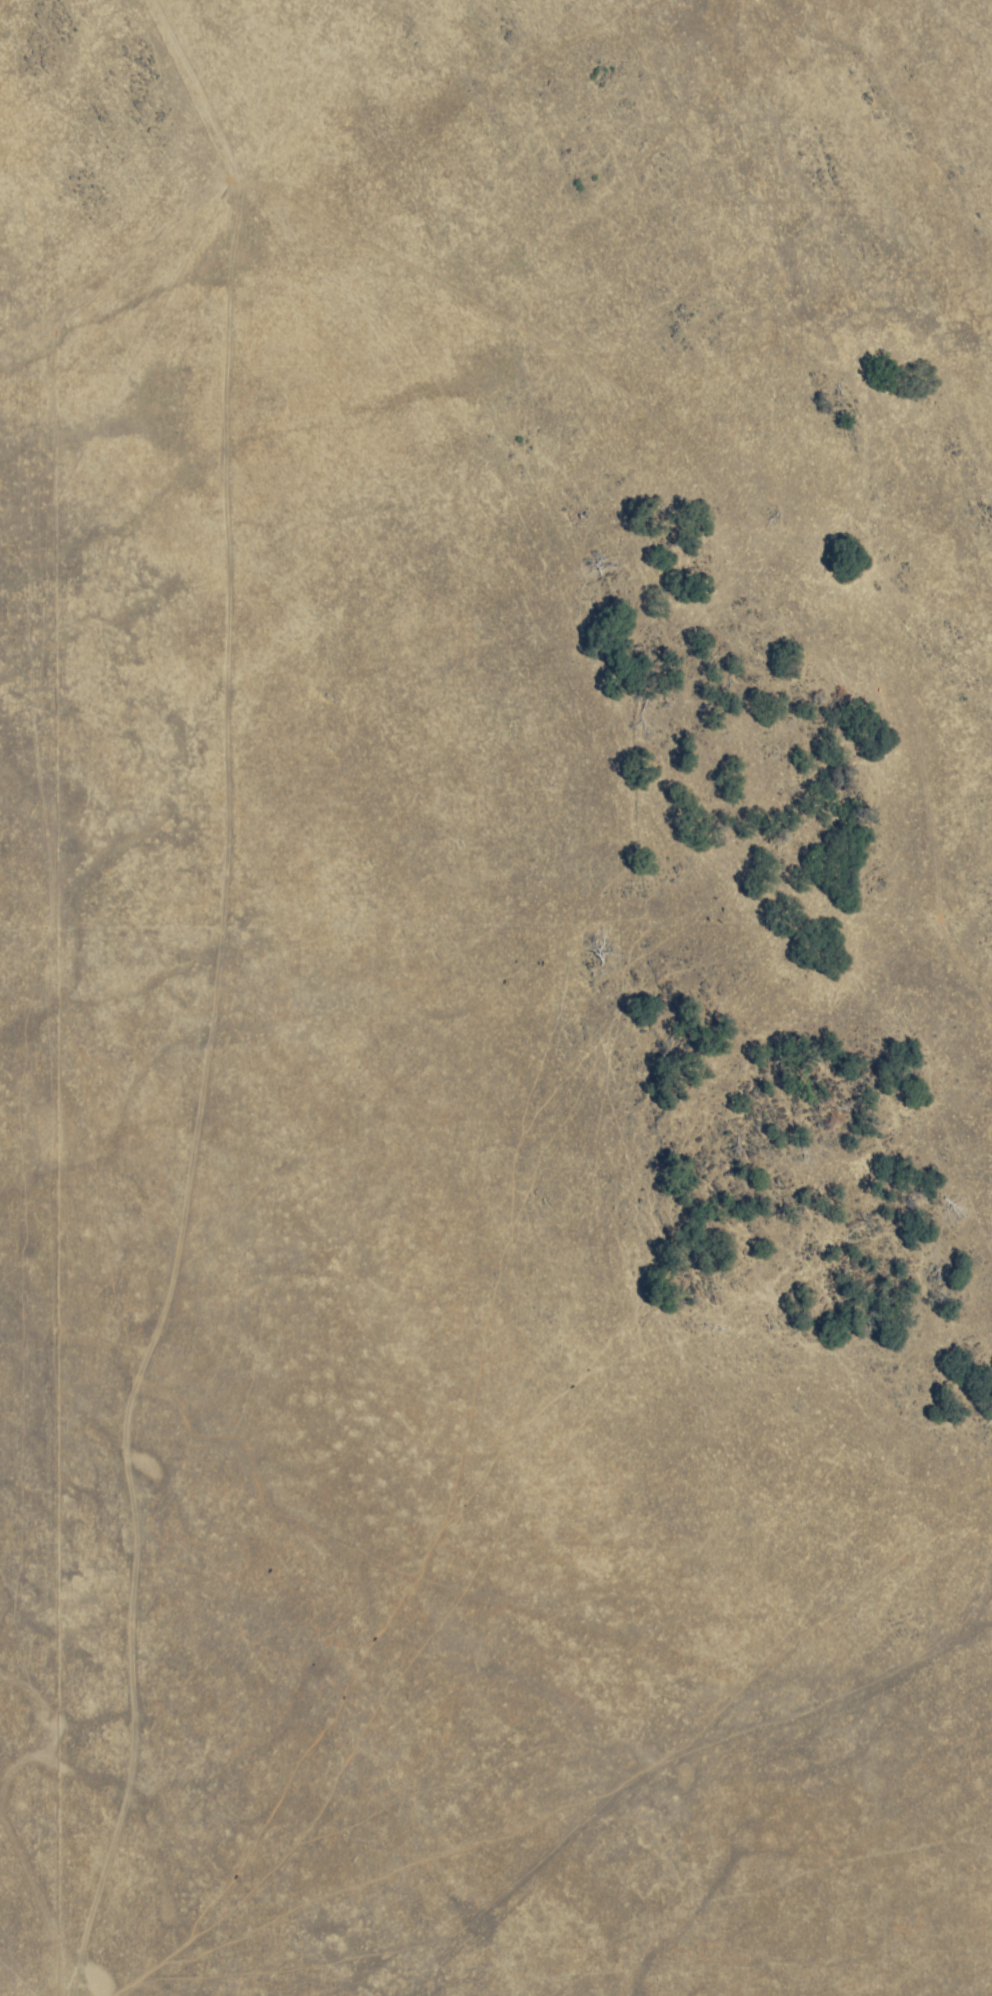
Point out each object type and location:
road: (222, 1001)

